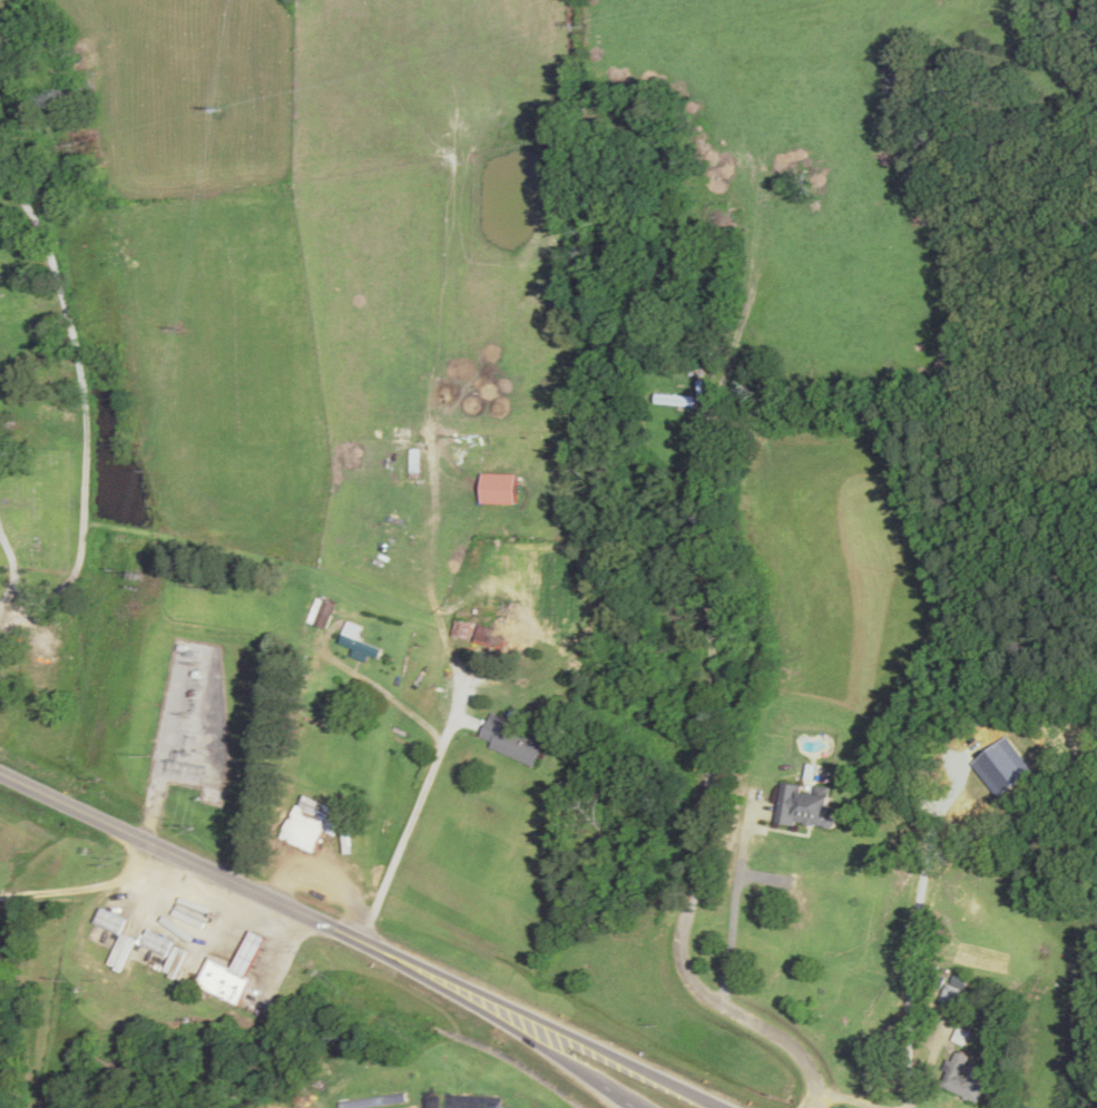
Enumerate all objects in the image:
building: (676, 400)
road: (88, 405)
building: (500, 489)
building: (357, 641)
road: (676, 714)
power substation: (196, 718)
building: (511, 741)
road: (438, 757)
building: (804, 807)
building: (307, 827)
road: (180, 855)
building: (187, 909)
building: (114, 920)
building: (159, 943)
building: (234, 972)
building: (956, 991)
road: (497, 1024)
road: (540, 1024)
building: (966, 1078)

